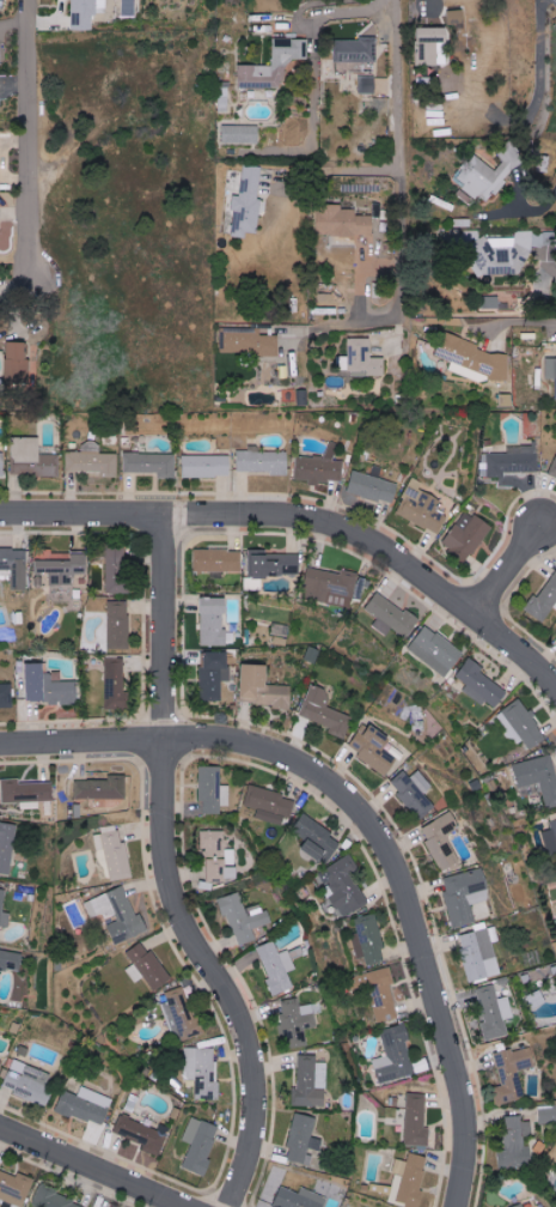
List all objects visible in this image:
road: (428, 10)
building: (86, 12)
building: (457, 17)
road: (312, 24)
building: (433, 46)
building: (356, 49)
building: (0, 55)
building: (366, 65)
building: (274, 66)
building: (367, 85)
road: (531, 128)
building: (240, 134)
road: (26, 139)
building: (0, 142)
road: (399, 157)
building: (487, 175)
building: (248, 204)
road: (14, 281)
road: (519, 322)
road: (343, 323)
building: (251, 342)
building: (475, 357)
building: (365, 358)
building: (18, 363)
building: (551, 369)
building: (303, 396)
building: (31, 459)
building: (92, 461)
building: (262, 461)
building: (151, 463)
building: (509, 463)
building: (1, 465)
building: (206, 466)
building: (319, 467)
building: (554, 471)
building: (373, 487)
building: (422, 510)
road: (251, 517)
building: (468, 535)
building: (218, 560)
building: (274, 564)
building: (14, 566)
road: (514, 568)
building: (63, 569)
building: (116, 570)
building: (335, 588)
building: (544, 601)
building: (391, 617)
building: (214, 621)
building: (118, 624)
road: (518, 649)
building: (436, 651)
building: (214, 674)
building: (115, 684)
building: (482, 685)
building: (49, 687)
building: (263, 689)
building: (6, 696)
building: (324, 712)
building: (521, 724)
road: (85, 746)
building: (373, 748)
building: (538, 777)
building: (102, 788)
building: (213, 790)
building: (26, 793)
building: (414, 793)
building: (269, 805)
building: (317, 839)
building: (551, 839)
building: (442, 841)
building: (6, 845)
building: (114, 853)
building: (218, 857)
road: (172, 874)
building: (343, 886)
building: (465, 894)
road: (407, 902)
building: (4, 910)
building: (118, 914)
building: (243, 918)
building: (368, 939)
building: (478, 954)
building: (276, 966)
building: (147, 968)
building: (381, 994)
building: (493, 1011)
building: (177, 1013)
building: (297, 1020)
building: (396, 1056)
building: (0, 1063)
building: (201, 1072)
building: (513, 1073)
building: (311, 1081)
building: (28, 1082)
building: (85, 1105)
building: (548, 1115)
building: (416, 1120)
building: (142, 1134)
building: (304, 1140)
building: (517, 1142)
building: (200, 1145)
road: (92, 1167)
building: (410, 1179)
building: (14, 1188)
building: (299, 1197)
building: (54, 1200)
building: (519, 1206)

